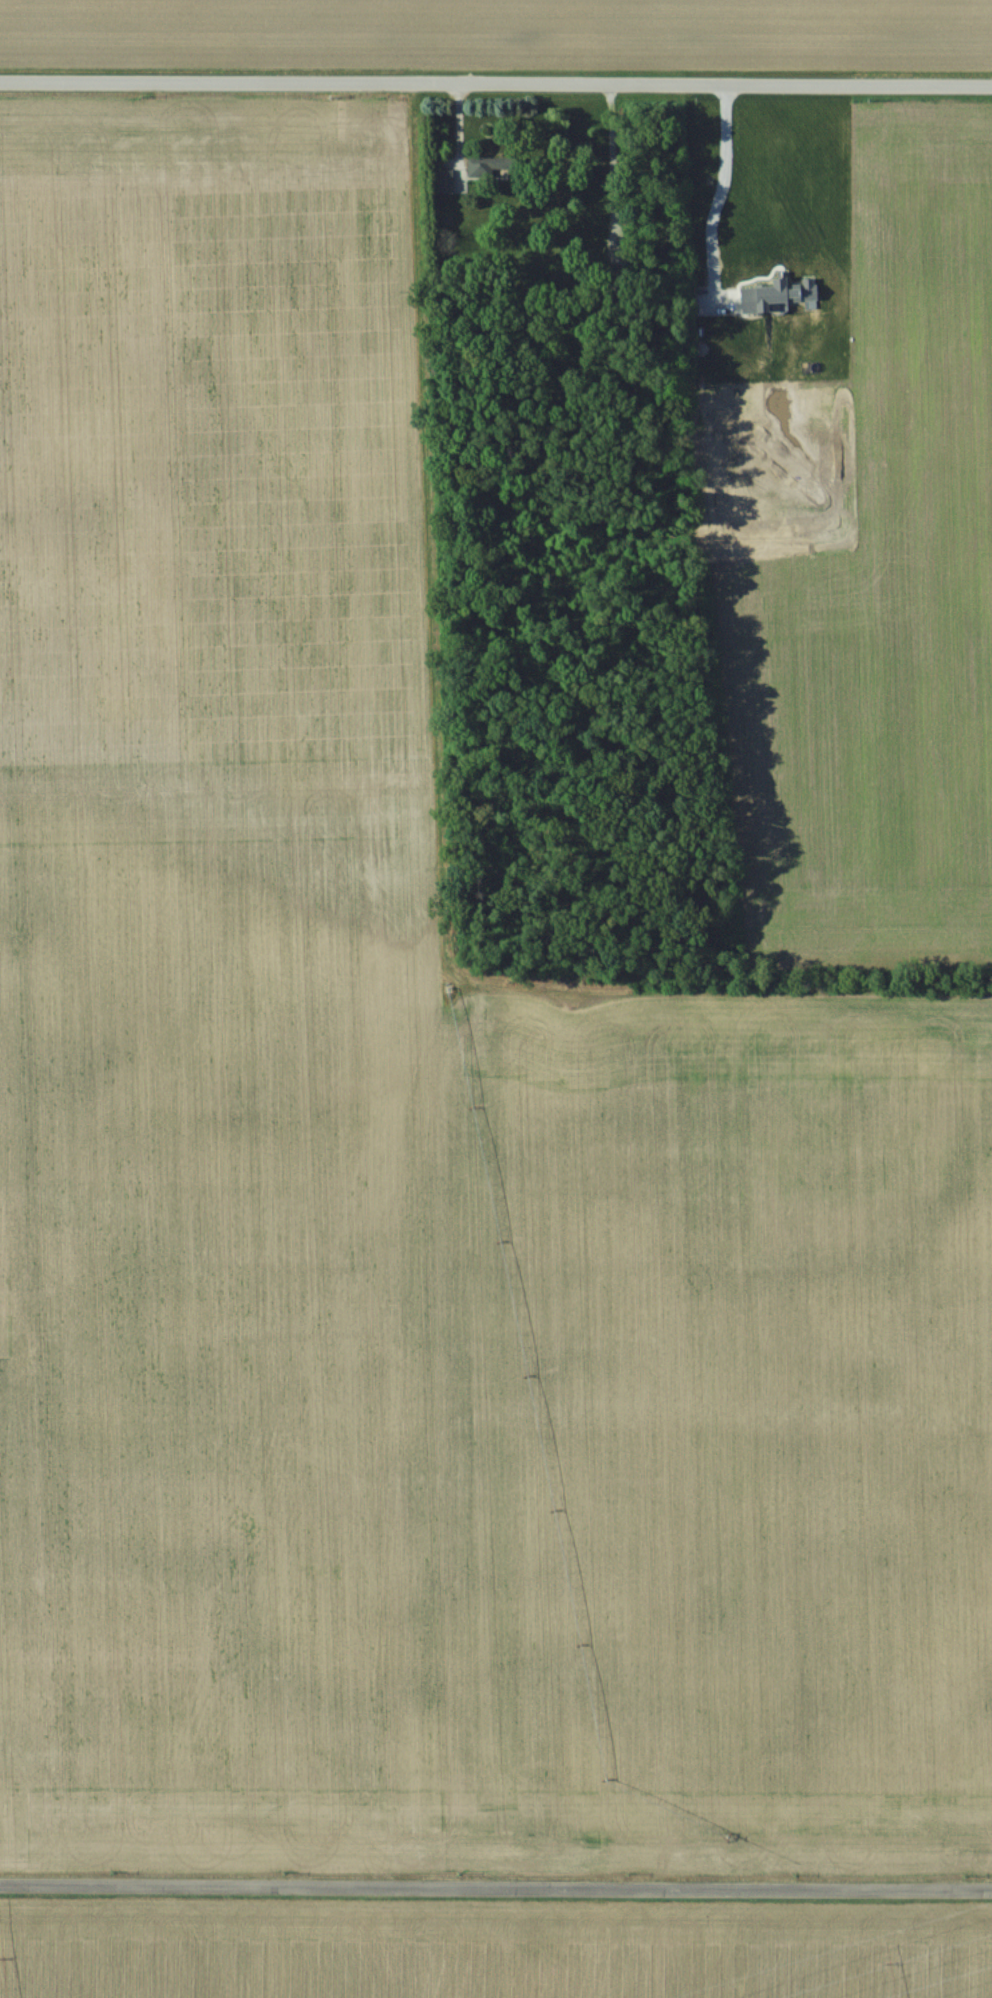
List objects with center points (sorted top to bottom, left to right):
road: (496, 72)
road: (454, 123)
road: (610, 153)
building: (484, 166)
road: (722, 178)
building: (446, 181)
road: (496, 1882)

